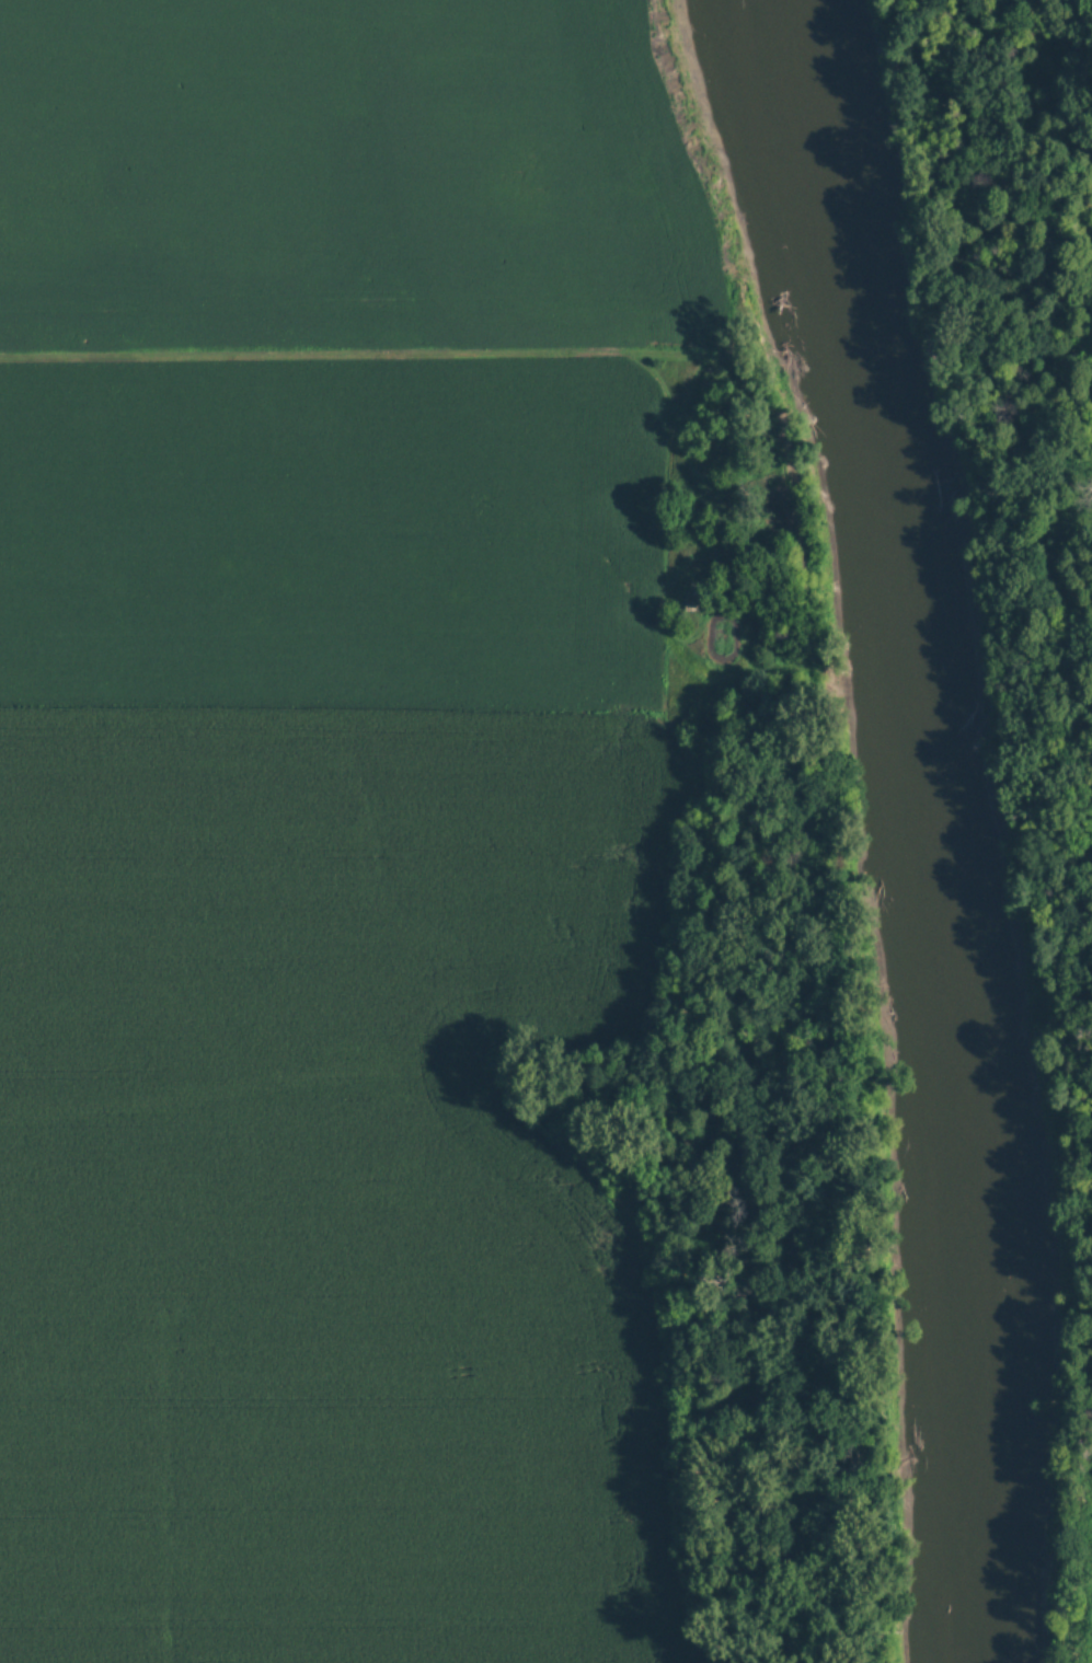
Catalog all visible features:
river: (944, 829)

